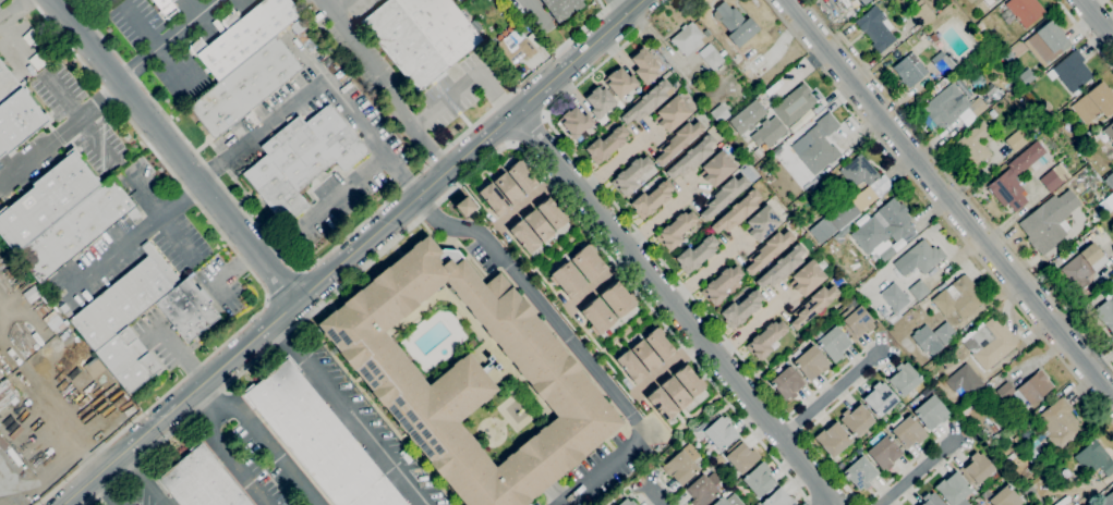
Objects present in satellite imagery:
building: (994, 0)
building: (996, 0)
building: (864, 1)
building: (903, 1)
road: (1109, 3)
road: (338, 7)
road: (618, 7)
building: (164, 8)
building: (559, 8)
road: (12, 11)
building: (1025, 11)
building: (922, 13)
road: (535, 14)
road: (1097, 19)
building: (735, 24)
building: (875, 28)
building: (706, 33)
road: (1085, 34)
building: (243, 35)
building: (303, 36)
building: (421, 36)
building: (933, 37)
road: (14, 38)
building: (687, 38)
road: (170, 40)
road: (156, 41)
building: (1047, 42)
road: (662, 47)
building: (973, 47)
building: (513, 50)
building: (711, 57)
building: (944, 62)
building: (644, 66)
building: (910, 70)
road: (593, 72)
building: (1070, 72)
building: (1027, 76)
building: (620, 82)
building: (977, 82)
building: (7, 84)
building: (244, 87)
road: (58, 99)
road: (97, 100)
building: (600, 101)
building: (646, 102)
building: (958, 103)
building: (1094, 103)
building: (794, 104)
building: (672, 113)
building: (719, 113)
building: (746, 116)
building: (19, 120)
road: (408, 120)
road: (356, 121)
building: (574, 122)
road: (528, 131)
building: (767, 132)
building: (1109, 132)
building: (1089, 133)
building: (1021, 136)
building: (677, 141)
building: (606, 145)
building: (820, 145)
building: (973, 146)
road: (176, 150)
road: (428, 150)
road: (102, 152)
building: (691, 157)
building: (301, 160)
road: (618, 162)
building: (716, 168)
road: (213, 170)
road: (474, 171)
building: (859, 172)
road: (403, 175)
building: (630, 175)
building: (521, 176)
building: (1050, 181)
building: (1109, 181)
road: (958, 187)
building: (507, 188)
building: (1007, 189)
building: (723, 196)
road: (951, 198)
road: (180, 199)
building: (493, 199)
road: (531, 199)
building: (651, 199)
building: (46, 200)
building: (464, 207)
road: (940, 211)
building: (737, 212)
building: (552, 213)
building: (843, 214)
road: (663, 217)
building: (895, 219)
building: (1048, 221)
building: (762, 223)
building: (537, 224)
building: (75, 230)
building: (676, 230)
building: (842, 234)
building: (524, 236)
building: (767, 250)
road: (351, 253)
road: (113, 254)
road: (278, 254)
building: (697, 254)
building: (886, 254)
road: (327, 255)
road: (243, 258)
building: (919, 258)
building: (588, 262)
building: (822, 264)
building: (1082, 266)
building: (782, 267)
road: (249, 268)
road: (706, 271)
building: (807, 278)
road: (221, 279)
building: (567, 279)
building: (1112, 280)
road: (602, 282)
road: (283, 283)
building: (721, 285)
building: (919, 290)
building: (894, 297)
building: (125, 298)
building: (958, 298)
building: (617, 299)
building: (812, 305)
road: (676, 308)
building: (741, 308)
building: (186, 309)
road: (702, 310)
building: (1105, 315)
building: (597, 317)
building: (856, 319)
road: (752, 325)
building: (945, 333)
building: (922, 337)
building: (765, 340)
road: (287, 341)
building: (833, 343)
building: (991, 343)
building: (658, 344)
road: (574, 346)
building: (644, 356)
building: (489, 358)
building: (126, 359)
building: (810, 362)
building: (496, 367)
building: (631, 367)
road: (669, 367)
building: (0, 375)
building: (469, 378)
building: (904, 379)
building: (964, 380)
building: (689, 381)
building: (787, 383)
building: (1027, 390)
building: (675, 392)
building: (5, 393)
road: (832, 393)
building: (880, 398)
building: (661, 404)
road: (209, 405)
building: (122, 407)
road: (237, 410)
building: (931, 412)
building: (856, 419)
building: (1060, 424)
building: (907, 430)
road: (364, 432)
building: (719, 432)
building: (990, 433)
building: (317, 439)
building: (833, 439)
building: (1011, 447)
building: (1035, 449)
building: (858, 451)
building: (884, 453)
building: (740, 456)
building: (1094, 459)
building: (681, 465)
building: (976, 468)
road: (926, 470)
building: (860, 472)
building: (1054, 476)
building: (759, 479)
building: (199, 480)
road: (144, 483)
building: (703, 489)
building: (953, 489)
road: (106, 491)
road: (656, 495)
building: (1005, 497)
building: (778, 498)
building: (734, 500)
building: (932, 500)
building: (1106, 500)
building: (627, 502)
building: (721, 502)
road: (807, 503)
building: (755, 504)
building: (977, 504)

